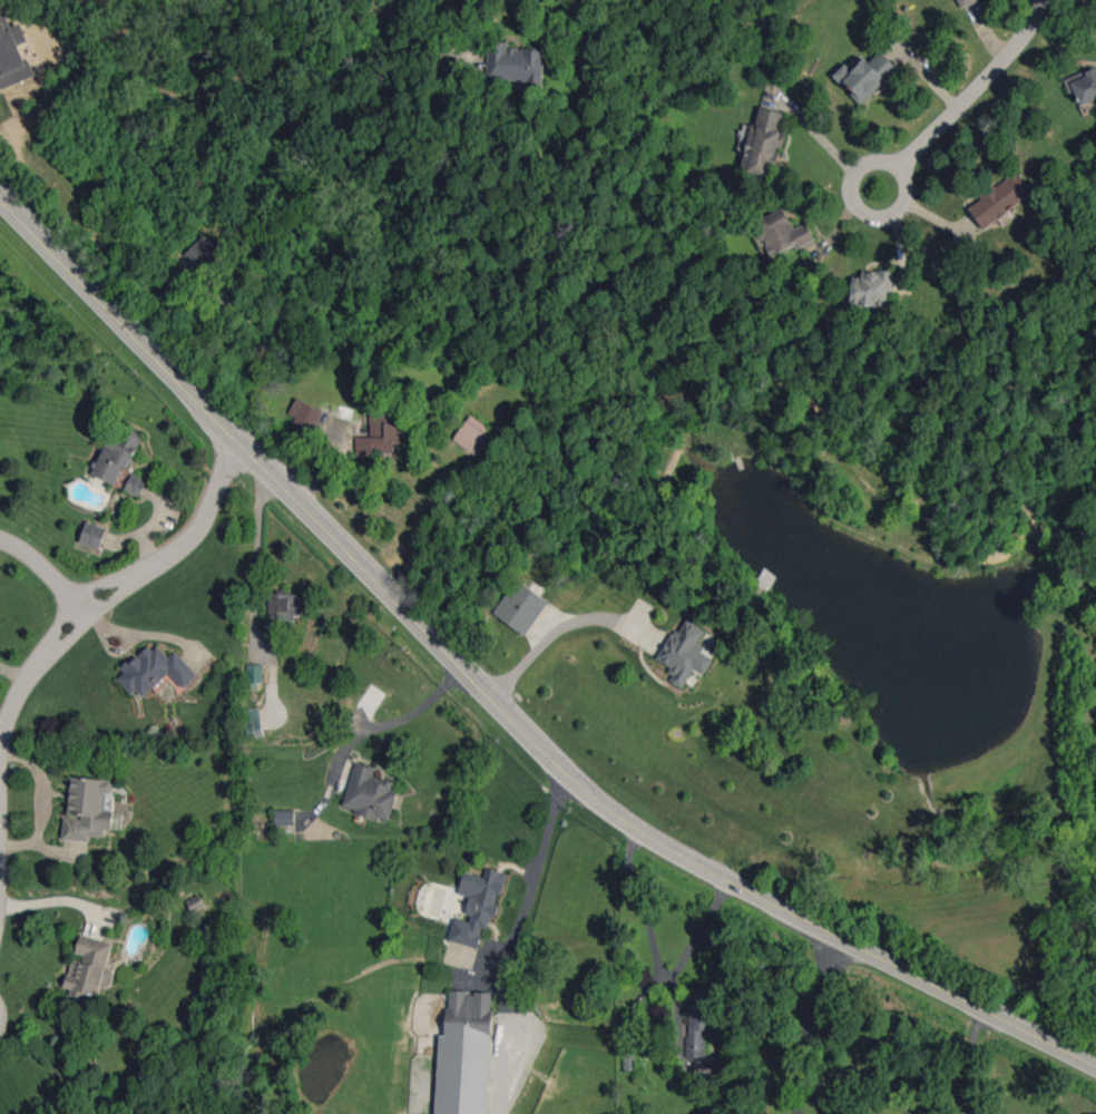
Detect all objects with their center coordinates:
road: (1089, 1)
building: (966, 2)
road: (433, 36)
building: (12, 53)
building: (515, 66)
building: (865, 76)
road: (980, 84)
building: (1083, 86)
building: (764, 141)
road: (857, 175)
building: (1000, 199)
building: (782, 232)
building: (203, 254)
building: (872, 287)
building: (305, 414)
building: (382, 434)
building: (473, 434)
building: (116, 453)
building: (135, 485)
building: (92, 535)
road: (186, 546)
road: (50, 574)
building: (286, 606)
building: (521, 606)
road: (536, 645)
building: (685, 653)
building: (156, 670)
building: (254, 673)
road: (493, 706)
road: (394, 717)
building: (254, 722)
road: (6, 735)
building: (370, 793)
road: (38, 803)
building: (87, 809)
building: (284, 817)
road: (529, 892)
road: (53, 900)
building: (195, 903)
building: (478, 906)
road: (639, 906)
road: (685, 948)
building: (90, 968)
building: (698, 1023)
road: (810, 1025)
building: (464, 1055)
road: (968, 1066)

